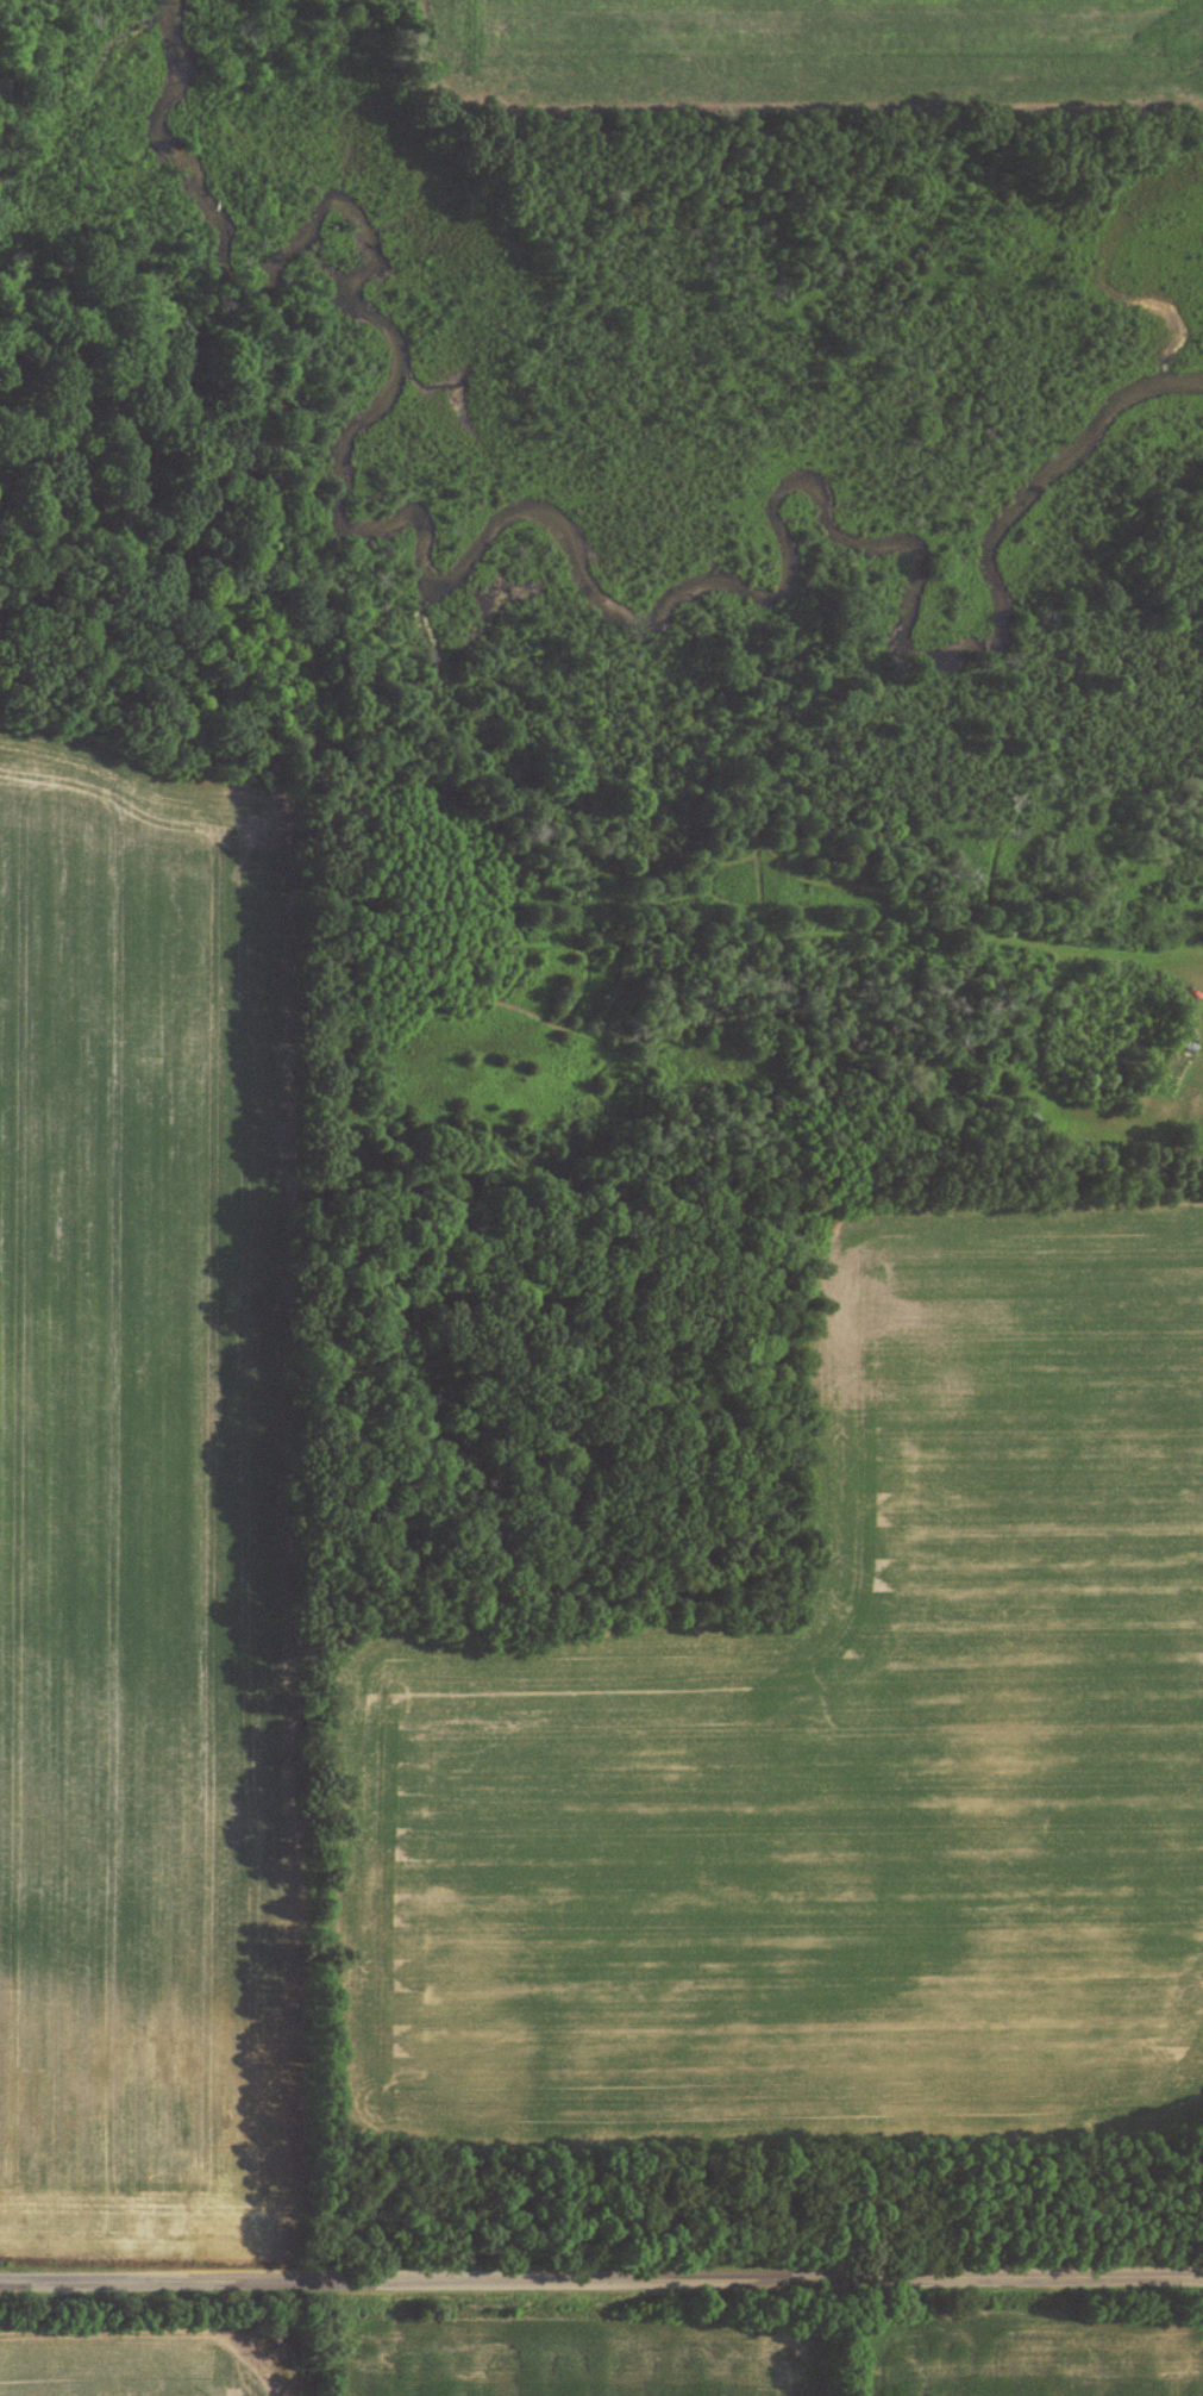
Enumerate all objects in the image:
road: (601, 2283)

